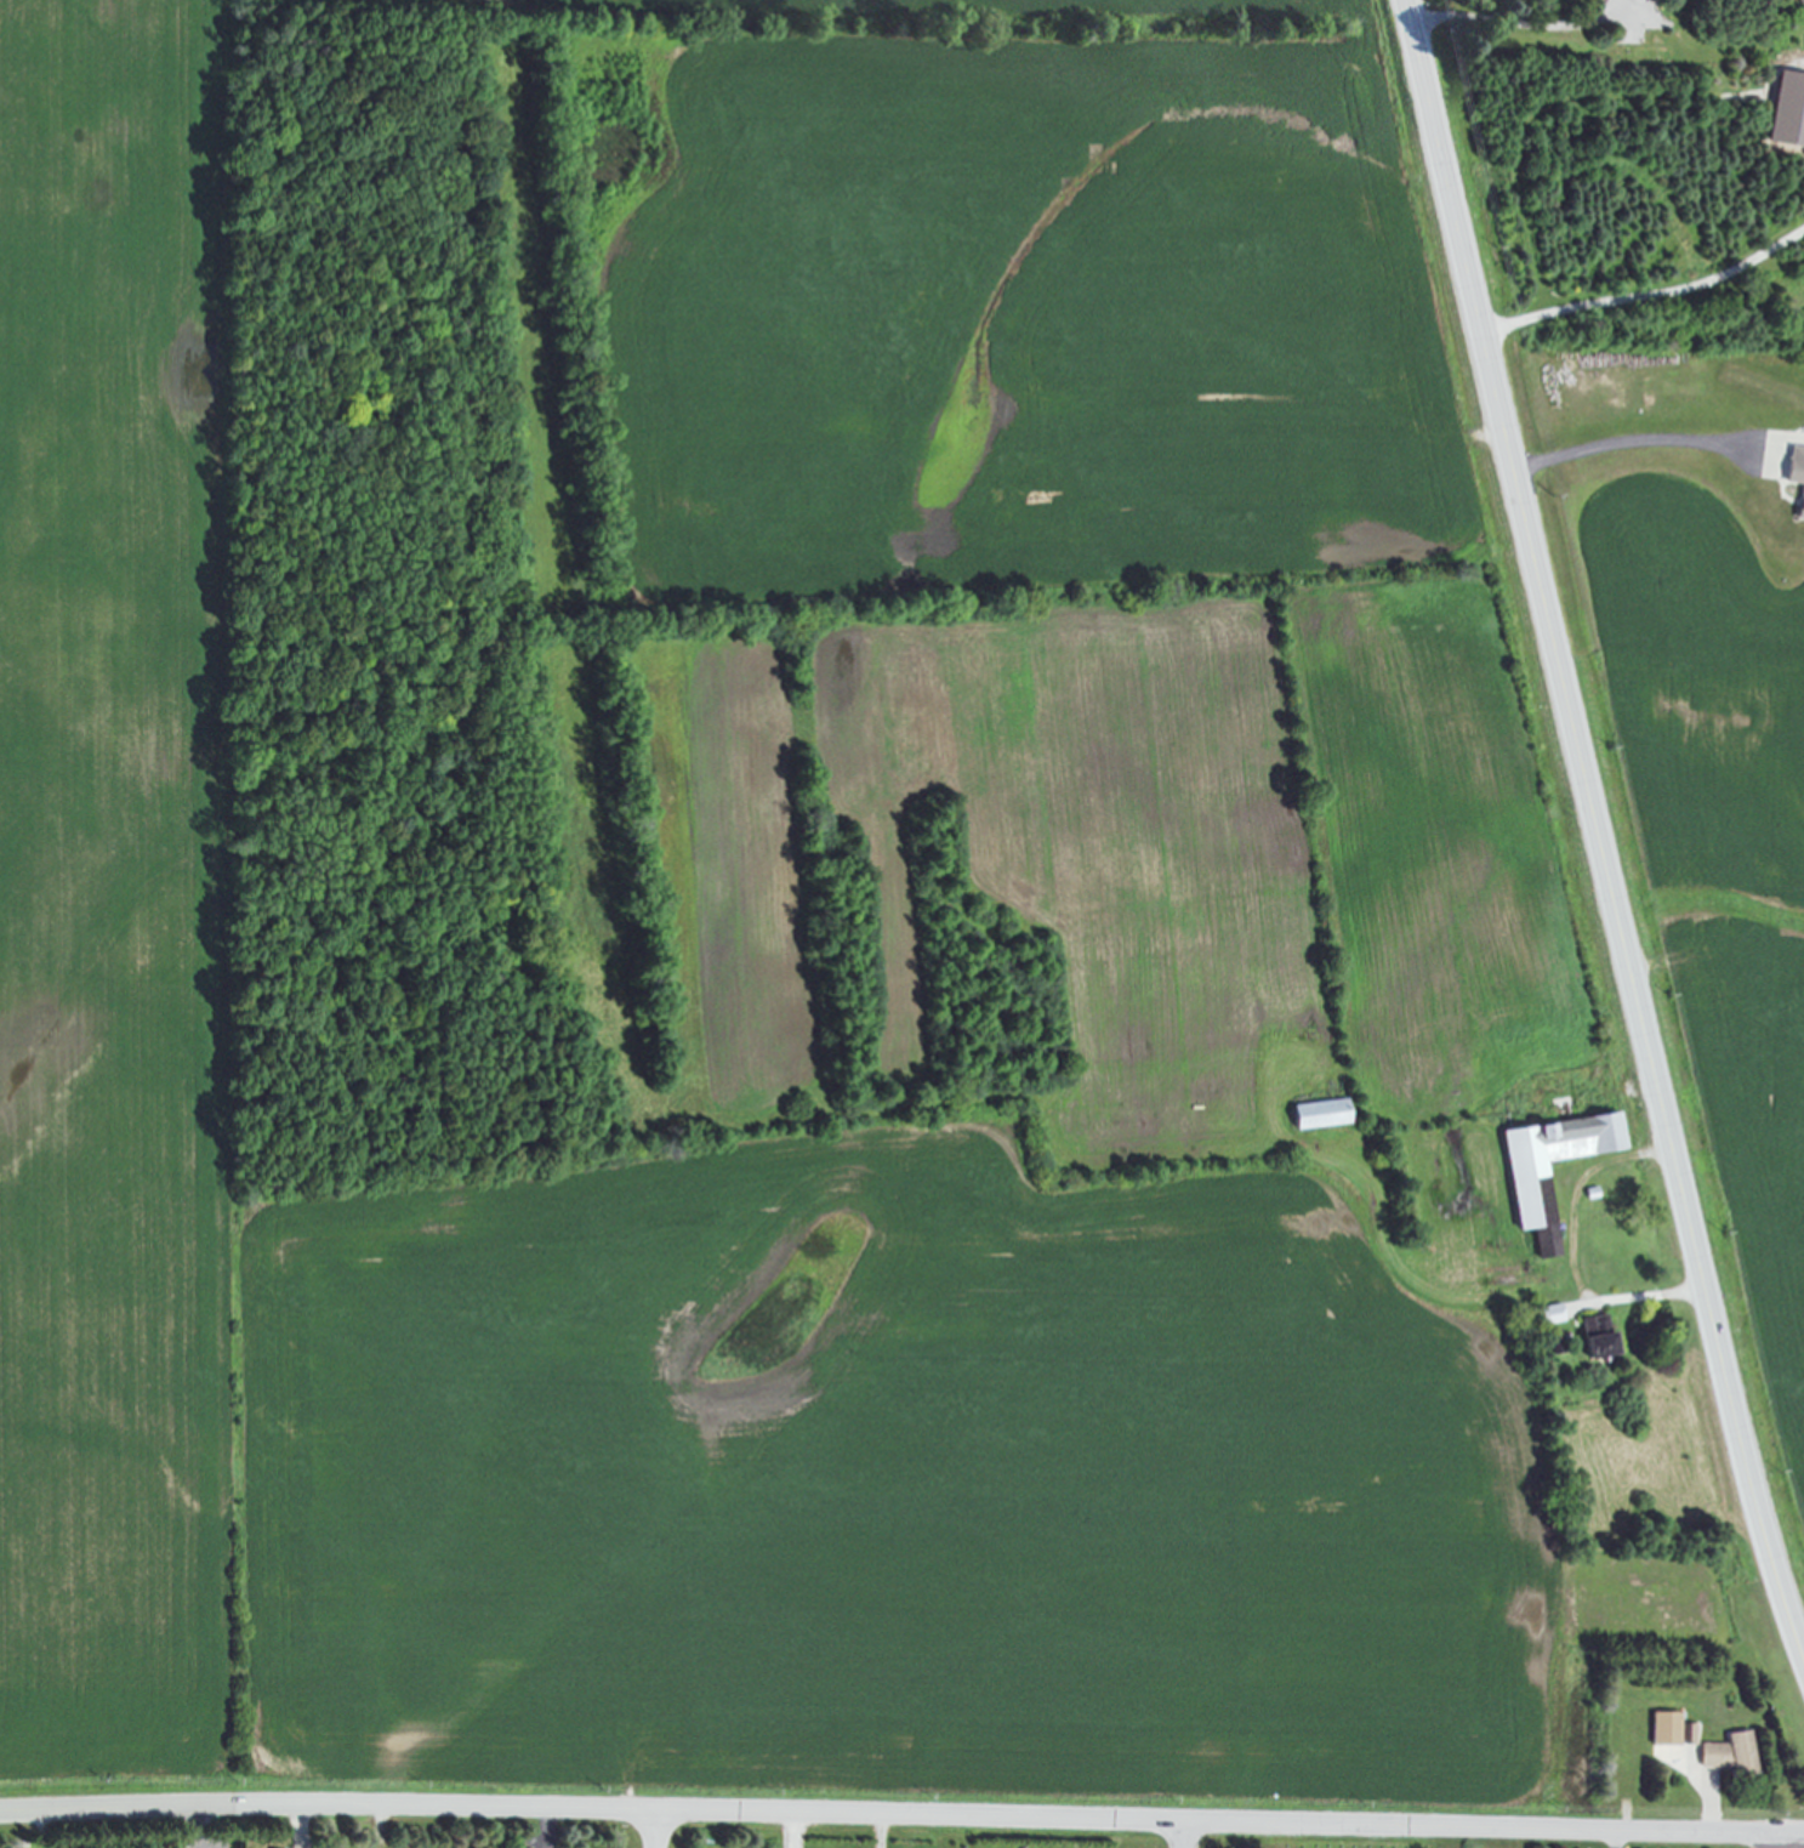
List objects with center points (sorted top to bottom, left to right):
road: (1515, 23)
road: (1647, 296)
road: (1629, 440)
building: (1794, 478)
road: (1597, 829)
building: (1315, 1116)
building: (1525, 1198)
road: (1570, 1250)
building: (1548, 1317)
building: (1592, 1340)
building: (1661, 1728)
building: (1725, 1753)
road: (901, 1810)
road: (658, 1827)
road: (793, 1829)
road: (1186, 1832)
road: (1620, 1838)
road: (1786, 1840)

